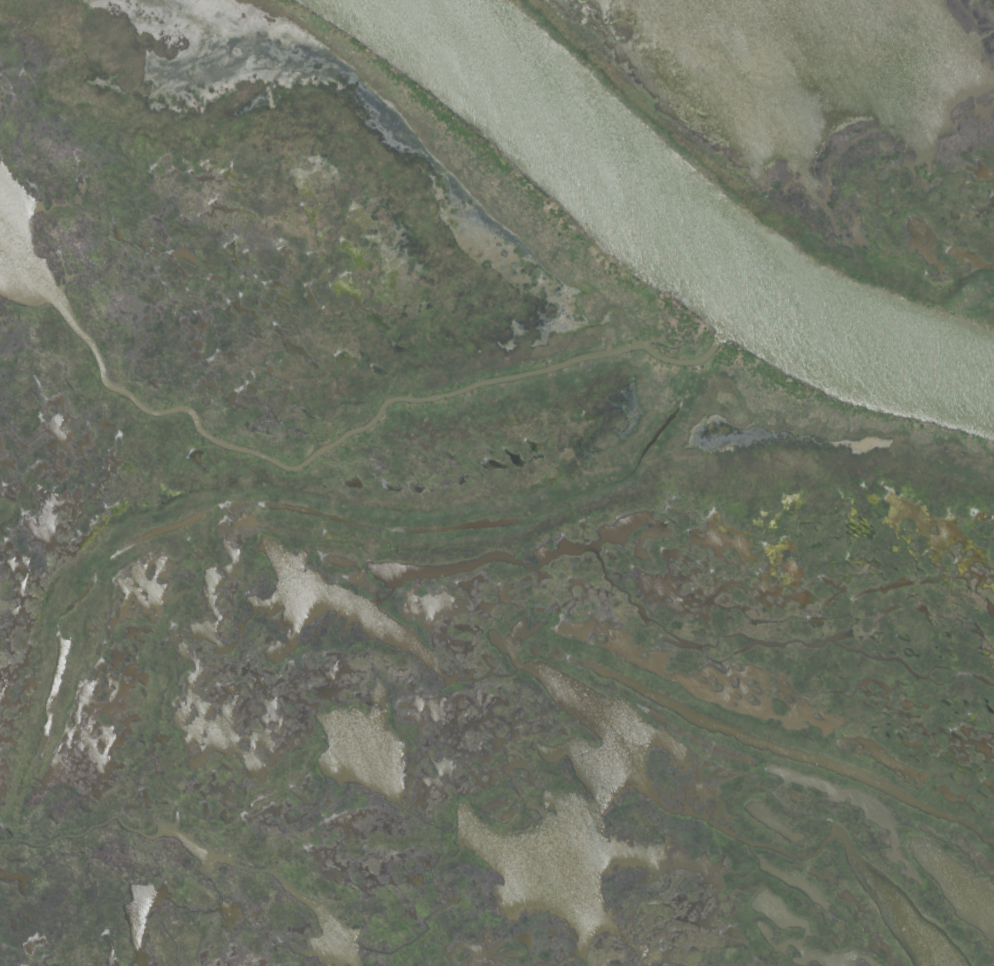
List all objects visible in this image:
river: (678, 221)

